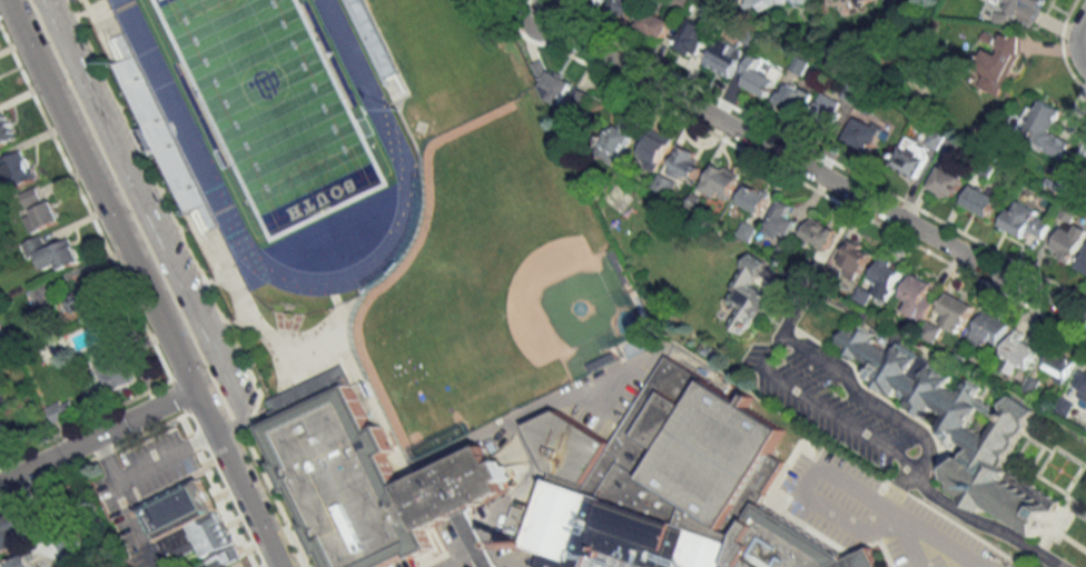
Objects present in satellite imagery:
building: (836, 0)
building: (598, 1)
building: (807, 1)
building: (768, 3)
road: (500, 6)
building: (623, 7)
building: (1024, 8)
building: (655, 23)
building: (693, 37)
road: (1075, 42)
building: (724, 57)
building: (999, 64)
building: (759, 77)
building: (796, 99)
park: (269, 106)
building: (579, 110)
building: (827, 111)
building: (6, 129)
building: (1045, 130)
building: (863, 133)
building: (616, 139)
building: (653, 149)
track: (192, 150)
building: (1083, 150)
road: (816, 157)
building: (910, 158)
building: (683, 163)
building: (18, 168)
road: (810, 168)
road: (784, 172)
building: (1068, 180)
building: (720, 181)
building: (946, 181)
building: (30, 198)
building: (753, 198)
building: (980, 198)
building: (41, 216)
building: (780, 220)
building: (1026, 220)
building: (818, 232)
building: (1068, 242)
building: (58, 256)
building: (856, 258)
building: (1083, 262)
road: (142, 283)
road: (164, 283)
building: (747, 292)
building: (919, 296)
building: (81, 300)
building: (955, 311)
building: (988, 330)
building: (1, 336)
road: (774, 339)
building: (1019, 352)
building: (1058, 366)
building: (117, 374)
building: (1080, 386)
building: (1065, 407)
building: (61, 409)
building: (950, 419)
road: (96, 436)
building: (671, 449)
road: (164, 454)
road: (788, 454)
road: (816, 460)
building: (367, 476)
road: (124, 500)
road: (983, 523)
building: (190, 525)
building: (13, 531)
building: (616, 533)
road: (1073, 541)
building: (787, 545)
road: (452, 559)
road: (264, 560)
building: (24, 561)

